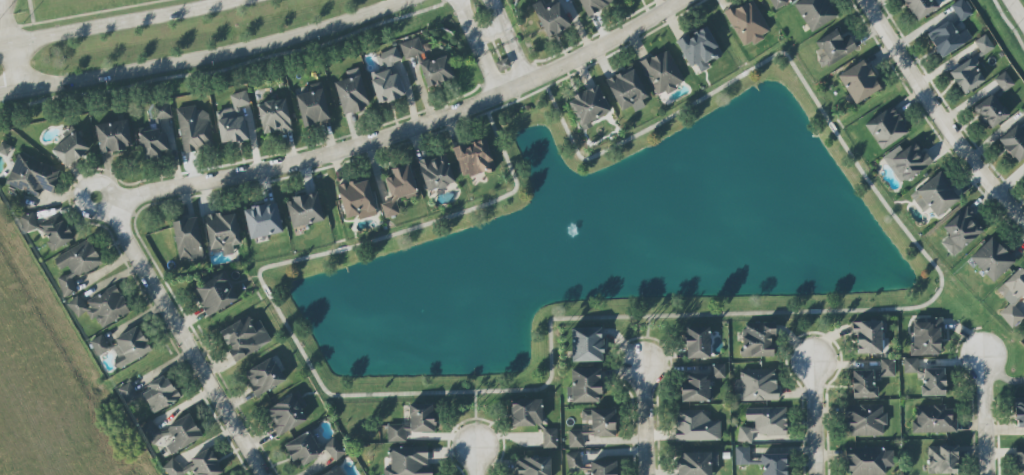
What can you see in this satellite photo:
parking lot: (2, 0)
building: (778, 3)
road: (6, 5)
building: (594, 5)
building: (922, 7)
building: (961, 10)
road: (1016, 12)
building: (815, 13)
building: (551, 16)
building: (747, 23)
road: (10, 24)
road: (119, 24)
building: (947, 38)
road: (510, 41)
building: (833, 47)
building: (411, 48)
road: (475, 48)
building: (699, 48)
road: (202, 59)
road: (17, 67)
building: (437, 71)
building: (662, 73)
road: (745, 73)
road: (581, 74)
building: (387, 77)
building: (859, 82)
building: (1003, 82)
building: (627, 90)
building: (352, 92)
road: (515, 95)
road: (516, 101)
building: (589, 105)
building: (312, 106)
building: (991, 111)
building: (160, 112)
road: (937, 115)
building: (275, 116)
building: (233, 120)
building: (886, 127)
building: (194, 129)
road: (411, 129)
road: (453, 131)
building: (113, 136)
road: (627, 140)
building: (1015, 140)
building: (152, 143)
building: (71, 147)
building: (474, 158)
building: (906, 162)
building: (436, 172)
building: (32, 175)
road: (81, 188)
building: (398, 188)
building: (935, 195)
building: (357, 199)
road: (471, 209)
road: (887, 209)
building: (305, 210)
building: (263, 221)
building: (48, 230)
fountain: (573, 230)
building: (222, 231)
building: (961, 231)
building: (188, 239)
road: (341, 250)
building: (992, 259)
road: (287, 262)
building: (76, 265)
road: (265, 291)
building: (215, 294)
building: (1013, 295)
building: (101, 306)
road: (814, 311)
building: (868, 336)
building: (245, 337)
building: (926, 337)
road: (185, 340)
building: (758, 340)
building: (1023, 341)
road: (646, 342)
building: (697, 342)
building: (587, 344)
building: (99, 345)
building: (130, 346)
building: (910, 365)
building: (886, 368)
building: (718, 371)
building: (264, 376)
building: (933, 382)
building: (864, 384)
building: (585, 385)
building: (757, 385)
road: (541, 387)
building: (128, 394)
building: (160, 394)
building: (526, 412)
building: (287, 413)
road: (817, 416)
road: (987, 416)
building: (422, 418)
road: (475, 419)
building: (934, 420)
road: (645, 421)
building: (865, 421)
building: (764, 423)
building: (593, 426)
building: (695, 426)
building: (396, 433)
building: (173, 434)
building: (550, 438)
building: (303, 448)
building: (334, 449)
building: (742, 455)
building: (942, 459)
building: (869, 460)
building: (409, 461)
road: (476, 461)
building: (574, 461)
building: (206, 463)
building: (696, 463)
building: (1019, 463)
building: (774, 464)
building: (533, 466)
building: (604, 467)
building: (177, 468)
building: (326, 474)

